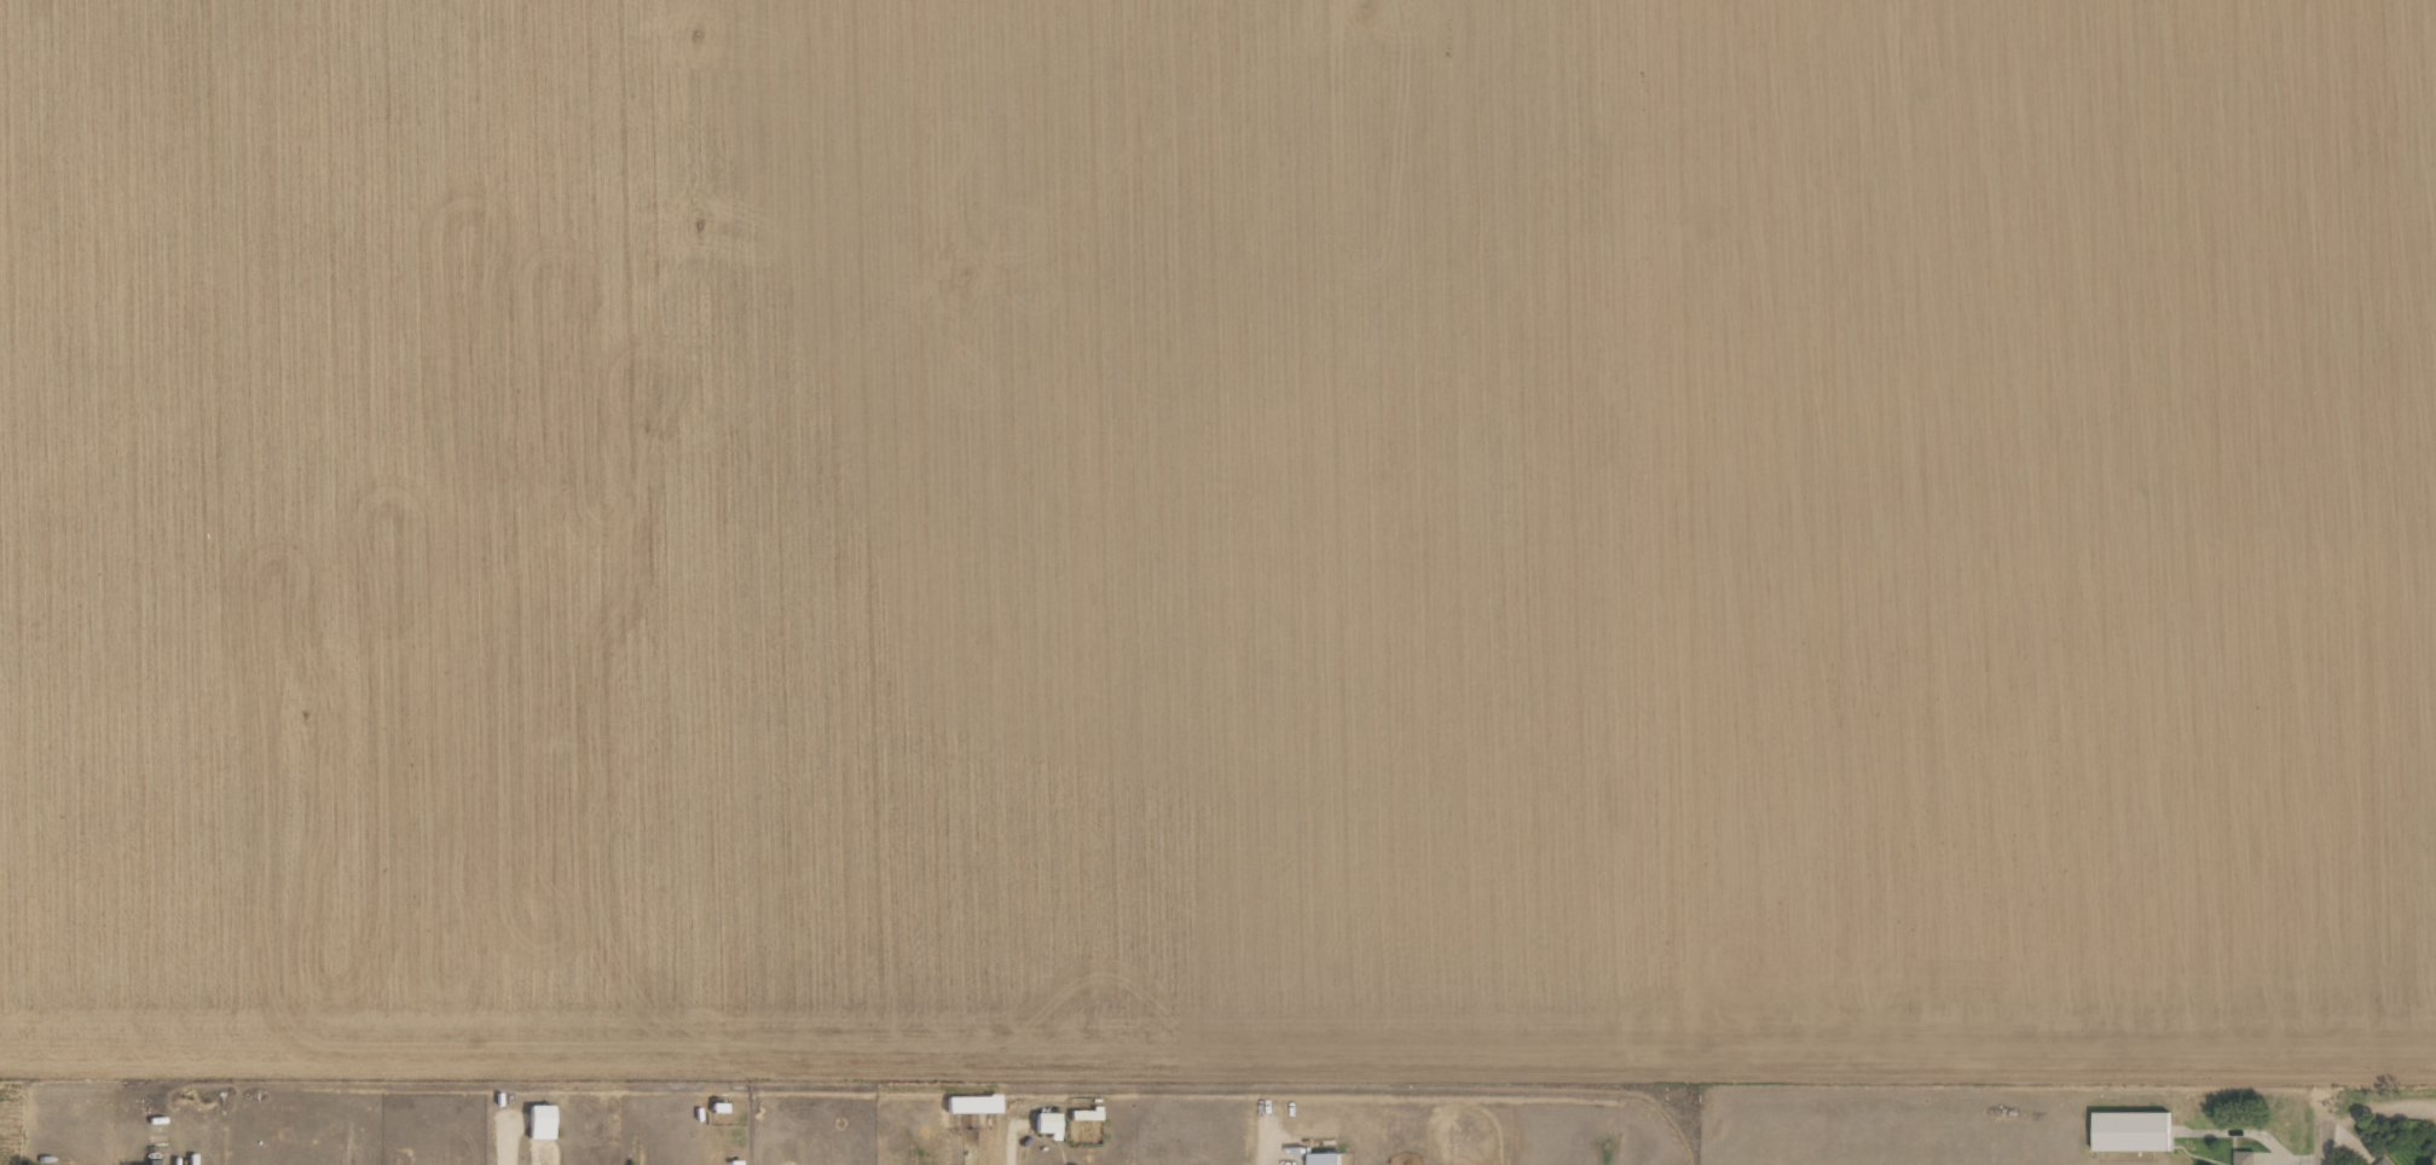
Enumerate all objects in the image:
building: (970, 1103)
building: (1082, 1114)
building: (538, 1121)
building: (1045, 1123)
building: (2129, 1130)
road: (2322, 1130)
building: (1323, 1158)
building: (2243, 1158)
building: (2382, 1161)

